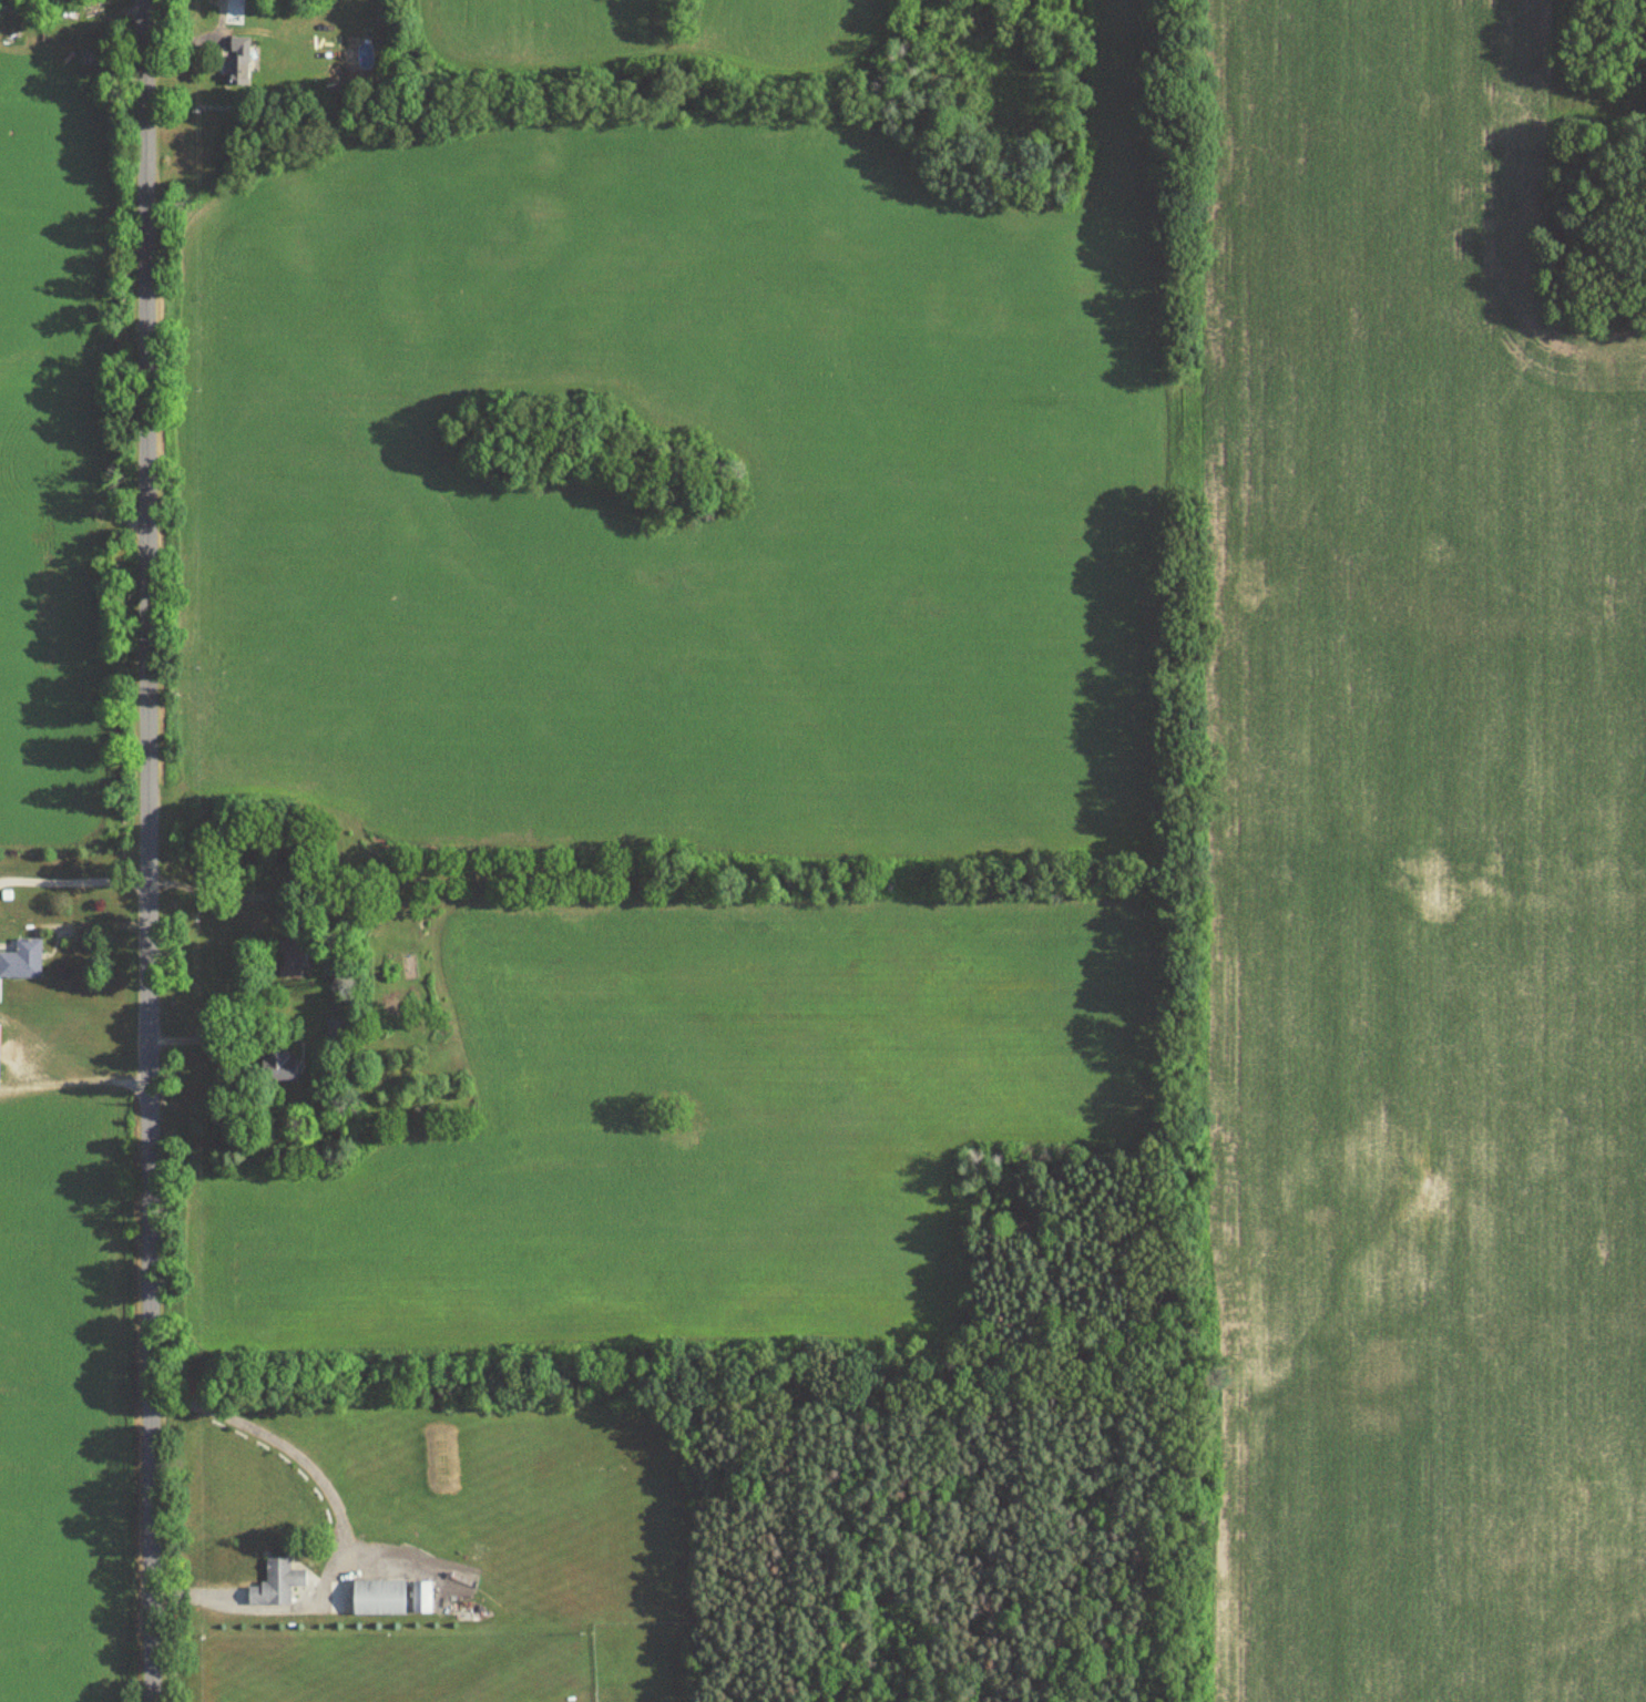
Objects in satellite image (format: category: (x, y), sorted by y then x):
building: (235, 61)
road: (146, 850)
road: (73, 879)
road: (241, 893)
building: (287, 958)
building: (21, 960)
building: (333, 1033)
road: (221, 1037)
building: (276, 1067)
road: (73, 1077)
road: (343, 1527)
building: (274, 1583)
building: (419, 1597)
building: (376, 1598)

